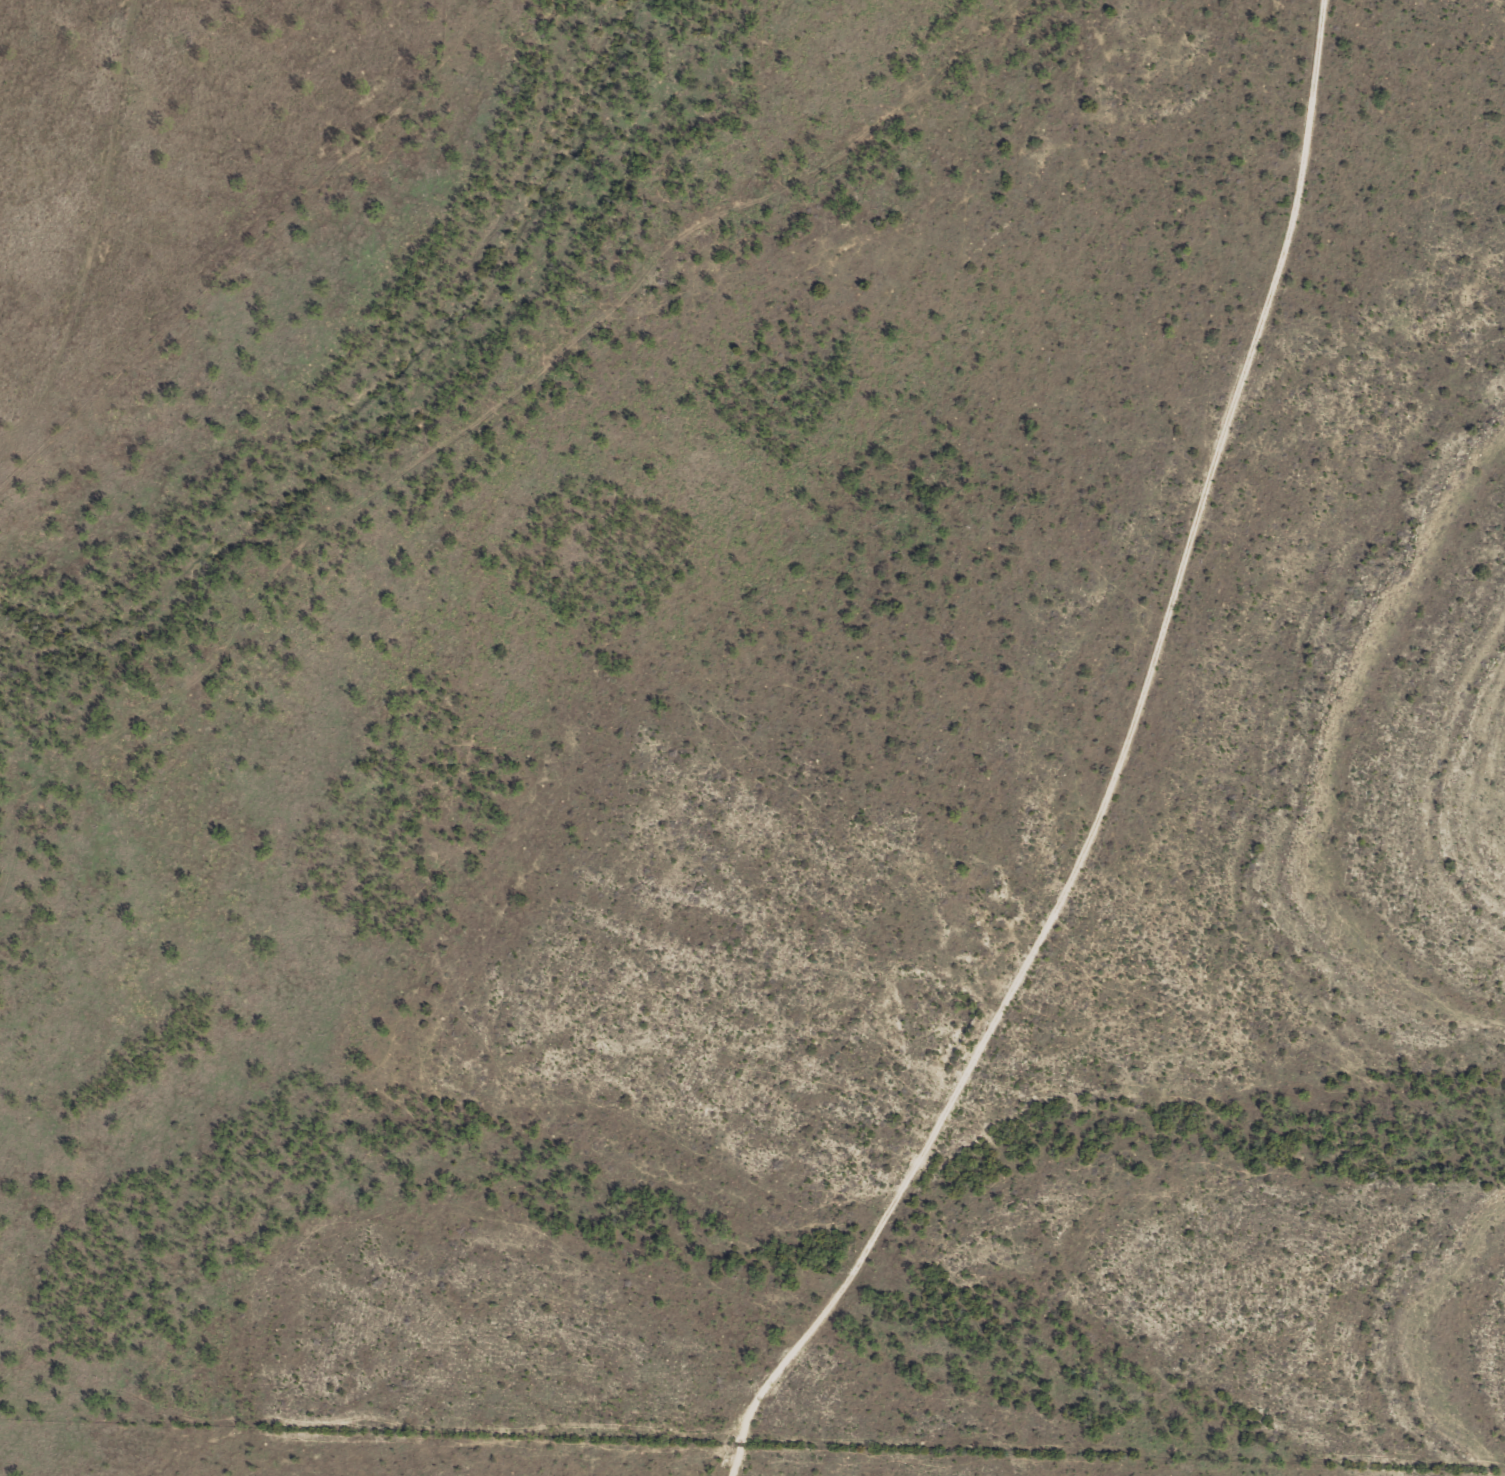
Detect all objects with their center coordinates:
road: (113, 249)
road: (1120, 756)

